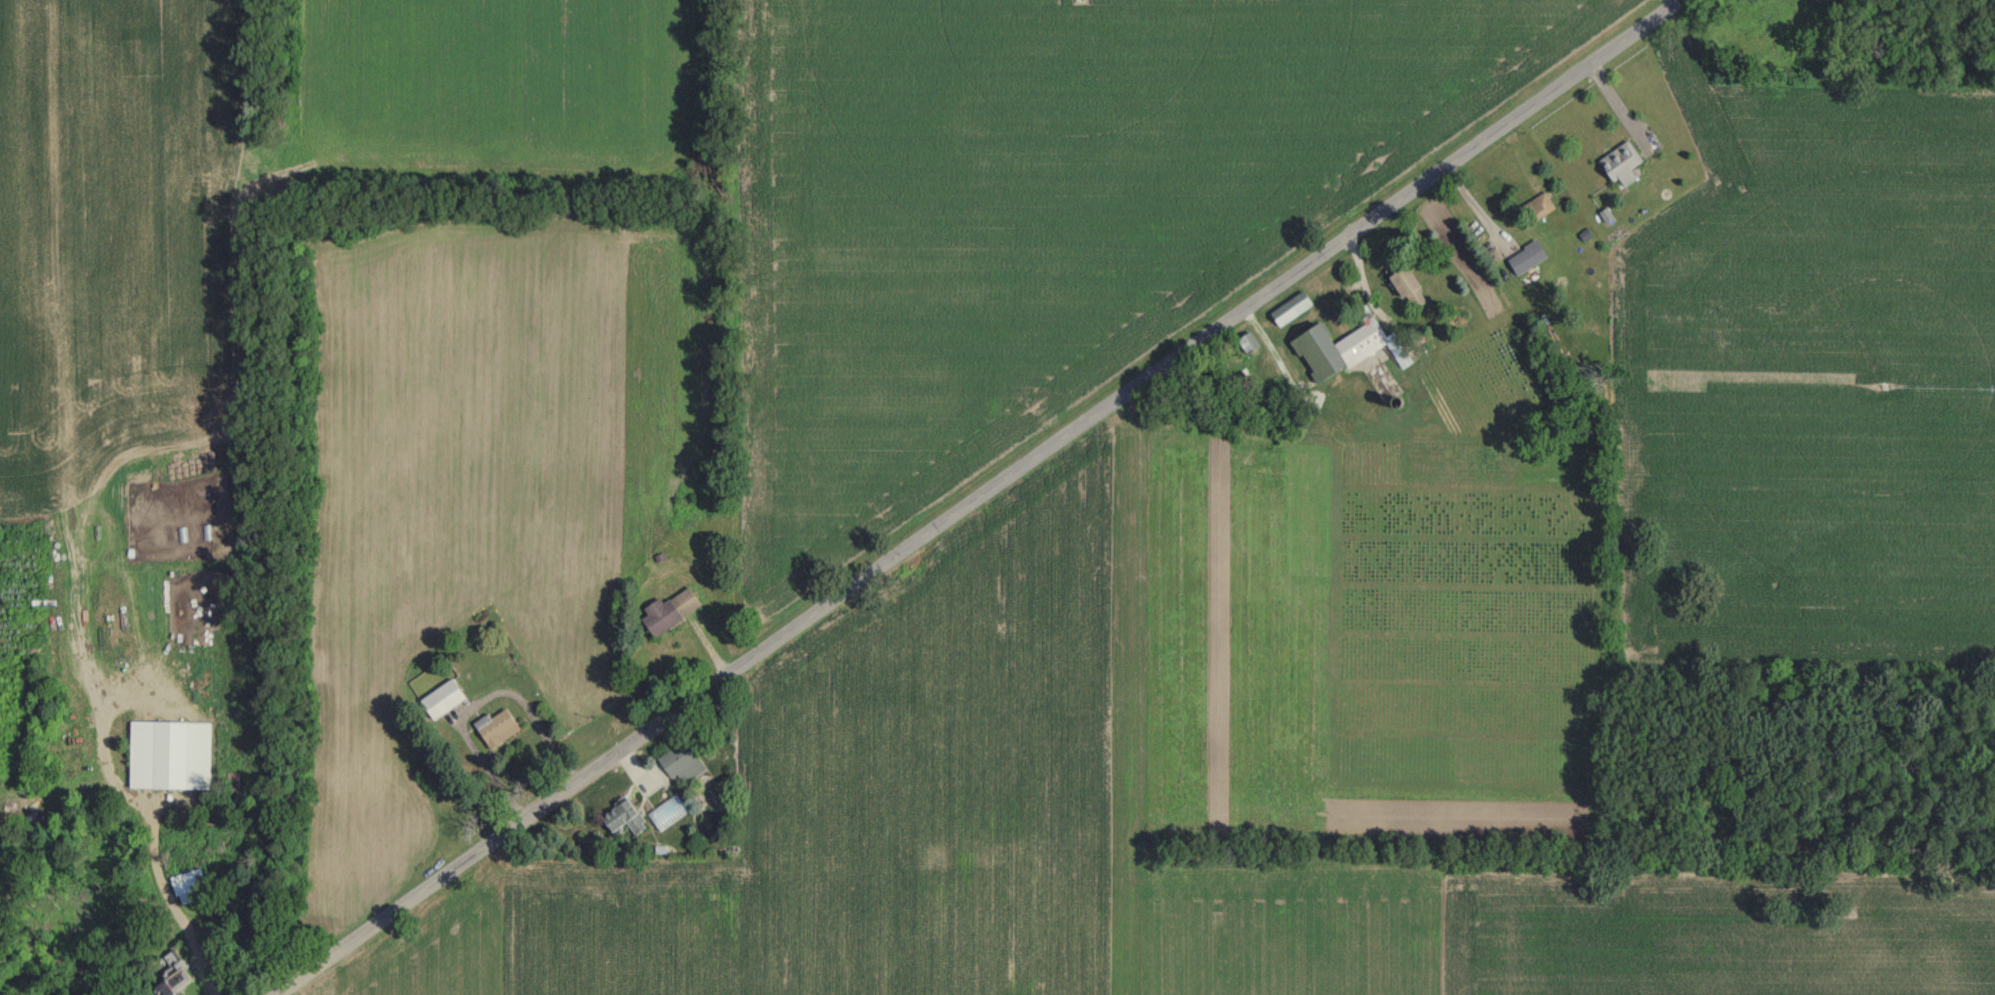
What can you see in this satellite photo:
building: (1781, 1)
road: (1616, 102)
building: (1623, 162)
road: (1475, 205)
building: (1537, 208)
building: (1292, 308)
building: (1249, 342)
building: (1346, 347)
road: (979, 497)
building: (190, 608)
building: (670, 610)
building: (486, 670)
building: (443, 698)
building: (498, 727)
road: (526, 729)
building: (170, 754)
building: (682, 762)
building: (624, 817)
road: (171, 907)
building: (174, 976)

